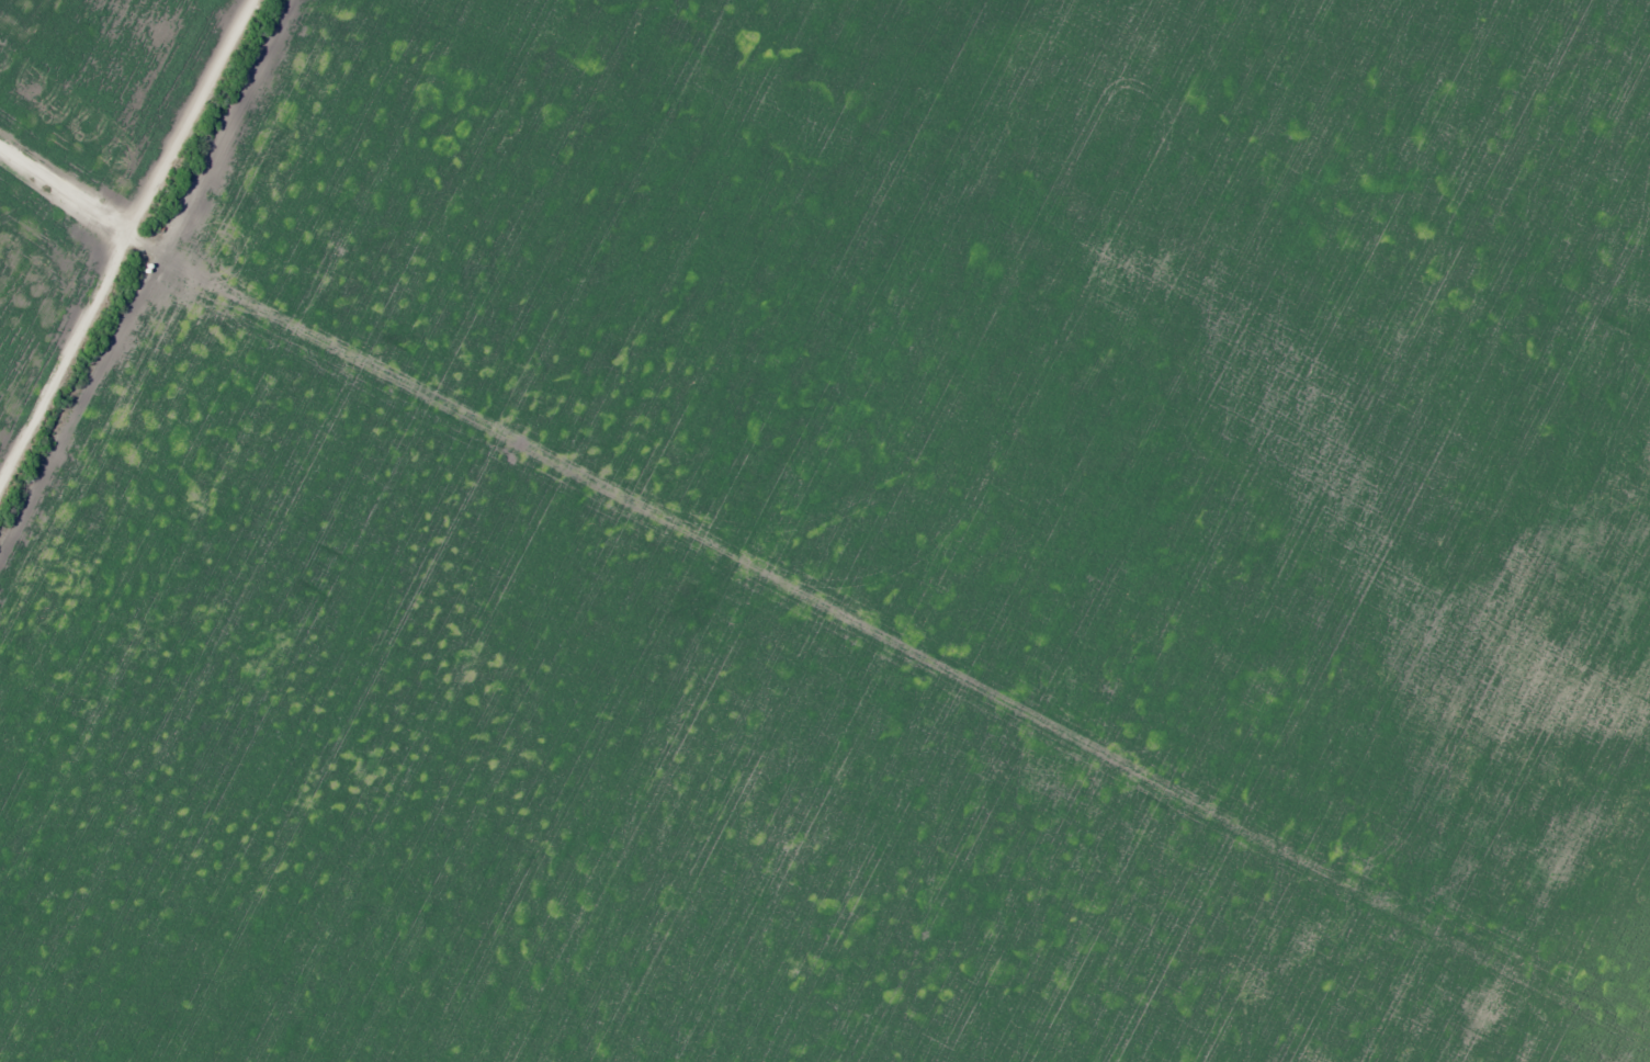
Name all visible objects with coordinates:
road: (147, 290)

